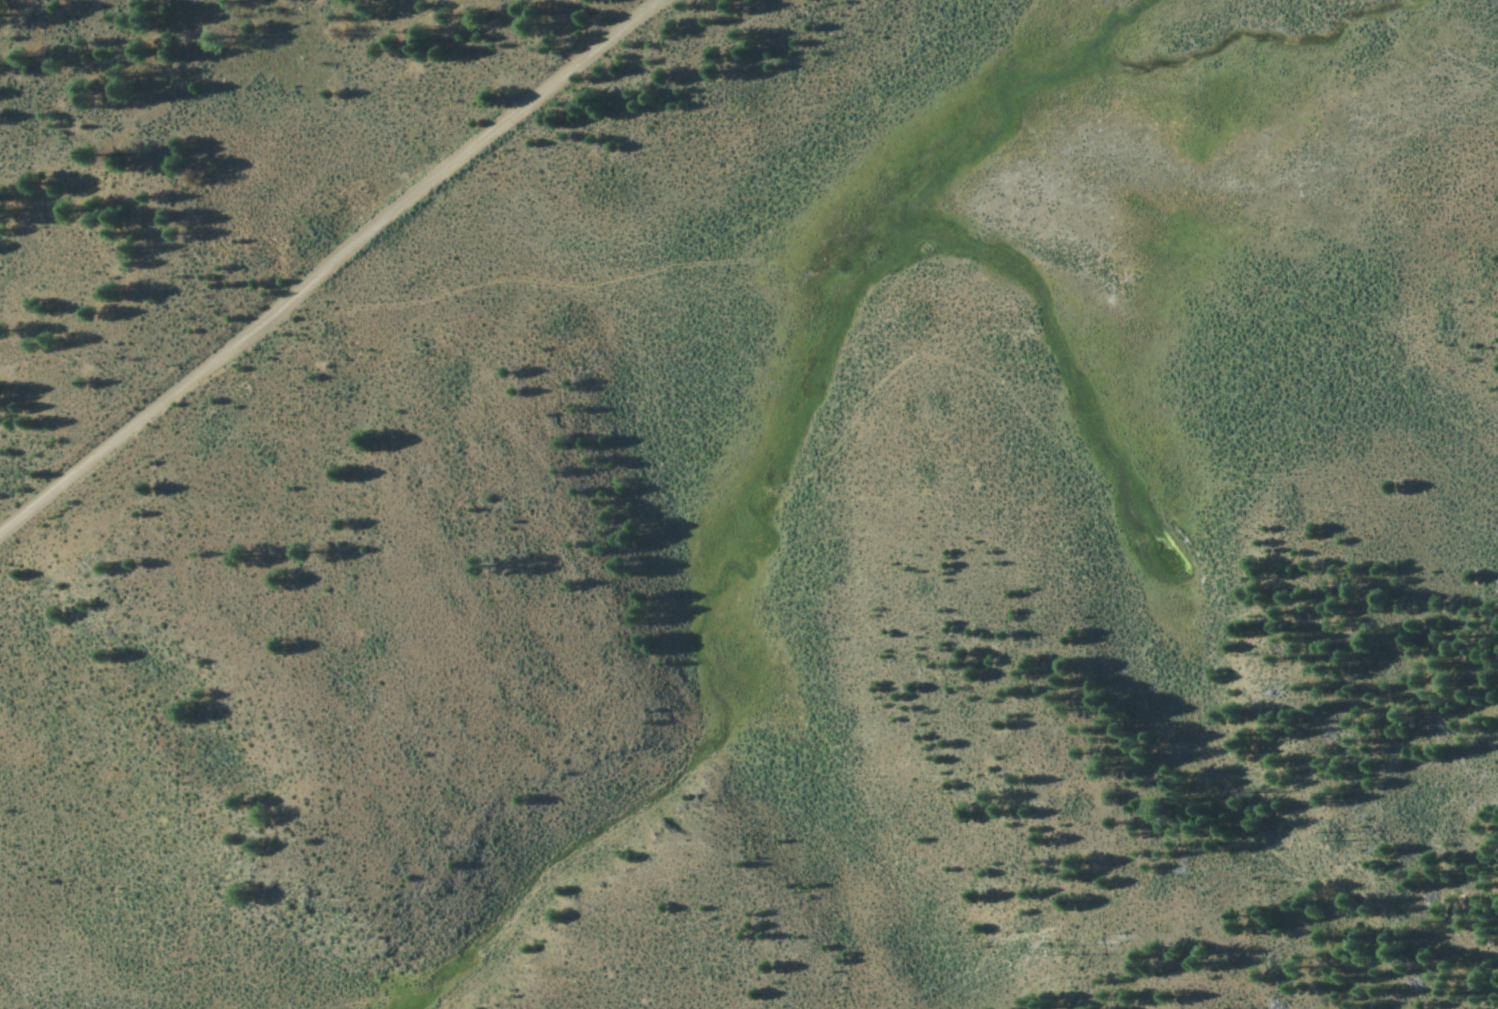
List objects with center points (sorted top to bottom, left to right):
road: (310, 260)
power tower: (1325, 838)
power tower: (1062, 951)

